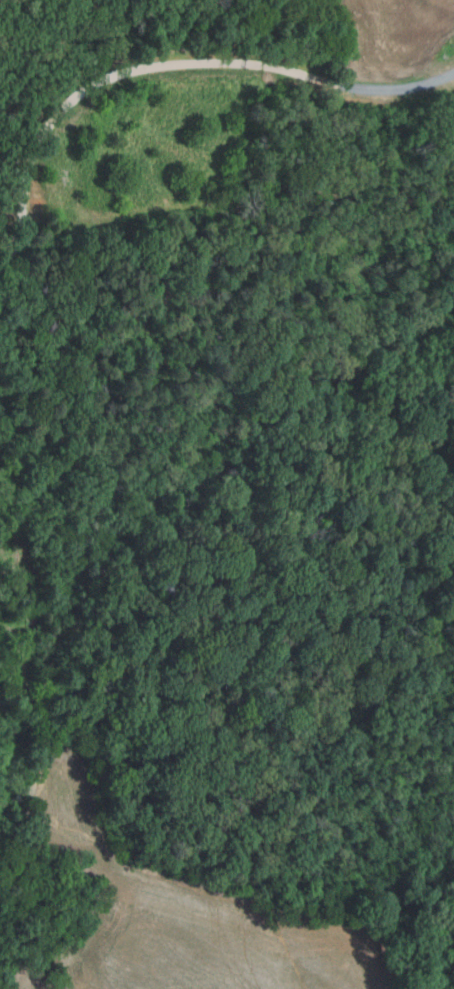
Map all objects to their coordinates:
road: (170, 68)
crop: (180, 910)
crop: (20, 976)

